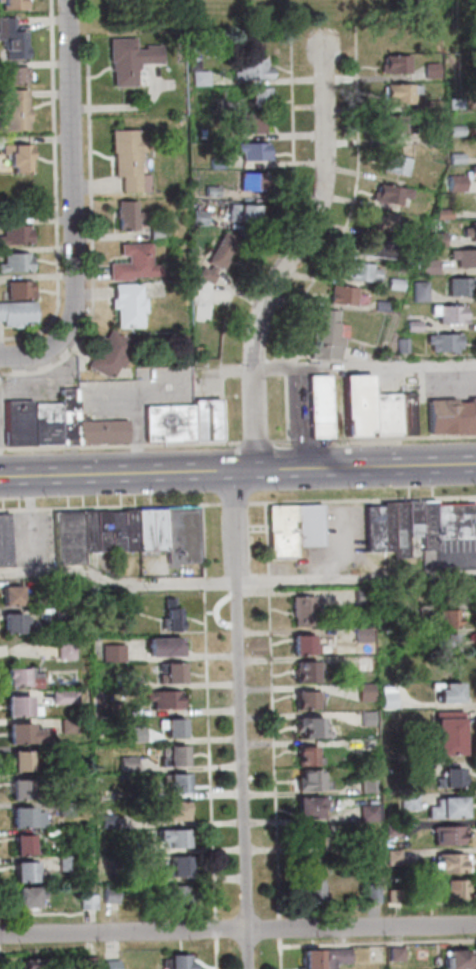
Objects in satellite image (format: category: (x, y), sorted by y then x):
building: (11, 4)
building: (11, 40)
building: (127, 58)
building: (392, 63)
building: (247, 67)
building: (428, 70)
building: (11, 76)
road: (340, 79)
road: (301, 80)
building: (397, 93)
building: (254, 95)
building: (452, 102)
building: (430, 105)
building: (13, 111)
building: (246, 123)
building: (397, 124)
building: (452, 130)
building: (431, 140)
building: (250, 151)
building: (16, 157)
building: (453, 157)
building: (126, 159)
building: (213, 163)
building: (392, 164)
building: (472, 170)
building: (252, 181)
building: (453, 182)
building: (208, 191)
road: (53, 192)
building: (387, 194)
road: (70, 205)
building: (238, 213)
building: (441, 214)
building: (126, 215)
building: (195, 217)
building: (381, 221)
building: (469, 231)
building: (156, 232)
building: (14, 235)
road: (88, 237)
road: (260, 239)
road: (337, 239)
building: (434, 240)
building: (372, 247)
building: (216, 255)
road: (290, 257)
building: (463, 258)
building: (401, 259)
building: (132, 262)
building: (14, 263)
building: (425, 267)
building: (359, 272)
building: (392, 283)
building: (458, 286)
building: (17, 291)
building: (417, 291)
building: (341, 295)
building: (128, 304)
building: (383, 306)
building: (204, 310)
building: (19, 313)
building: (454, 314)
building: (417, 326)
building: (330, 335)
building: (448, 342)
building: (407, 346)
building: (114, 353)
road: (367, 367)
building: (362, 405)
building: (324, 407)
building: (390, 414)
building: (411, 414)
building: (73, 415)
building: (454, 417)
building: (211, 418)
building: (23, 422)
building: (174, 422)
building: (51, 423)
building: (107, 431)
road: (375, 438)
road: (260, 442)
road: (123, 446)
road: (356, 467)
road: (118, 473)
road: (362, 497)
road: (233, 502)
road: (109, 505)
building: (414, 519)
building: (455, 520)
road: (35, 525)
building: (309, 525)
building: (428, 525)
building: (378, 527)
building: (145, 529)
building: (158, 529)
building: (399, 529)
building: (89, 530)
building: (103, 530)
building: (116, 530)
building: (130, 530)
building: (282, 530)
building: (182, 536)
building: (68, 537)
building: (5, 540)
road: (348, 544)
road: (43, 573)
road: (101, 579)
road: (295, 580)
building: (68, 593)
building: (21, 594)
building: (364, 595)
building: (133, 605)
building: (305, 609)
building: (399, 612)
building: (67, 613)
building: (174, 613)
building: (448, 617)
building: (18, 622)
building: (366, 635)
building: (448, 641)
building: (303, 644)
building: (67, 646)
building: (169, 646)
building: (116, 651)
building: (364, 663)
building: (175, 671)
building: (304, 671)
building: (20, 675)
building: (125, 681)
building: (364, 690)
building: (447, 691)
building: (390, 695)
building: (66, 696)
building: (169, 698)
building: (304, 700)
building: (22, 704)
building: (117, 709)
building: (368, 717)
road: (240, 719)
building: (70, 724)
building: (177, 726)
building: (310, 726)
building: (28, 732)
building: (446, 734)
building: (140, 735)
road: (210, 735)
road: (272, 735)
building: (367, 743)
building: (66, 751)
building: (177, 755)
building: (302, 755)
building: (24, 760)
building: (130, 763)
building: (415, 771)
building: (450, 776)
building: (69, 780)
building: (311, 780)
building: (179, 782)
building: (370, 783)
building: (25, 789)
building: (109, 793)
building: (411, 801)
building: (445, 805)
building: (309, 806)
building: (68, 808)
building: (176, 810)
building: (370, 812)
building: (27, 816)
building: (110, 819)
building: (394, 826)
building: (312, 833)
building: (68, 834)
building: (447, 834)
building: (177, 837)
building: (373, 838)
building: (29, 844)
building: (144, 846)
building: (394, 856)
building: (450, 861)
building: (69, 863)
building: (178, 865)
building: (30, 870)
building: (146, 874)
building: (451, 887)
building: (310, 889)
building: (113, 893)
building: (372, 893)
building: (179, 895)
building: (394, 895)
building: (33, 896)
building: (90, 901)
road: (237, 929)
road: (377, 942)
building: (394, 953)
building: (455, 955)
building: (324, 958)
building: (34, 960)
building: (178, 961)
road: (0, 962)
building: (112, 963)

